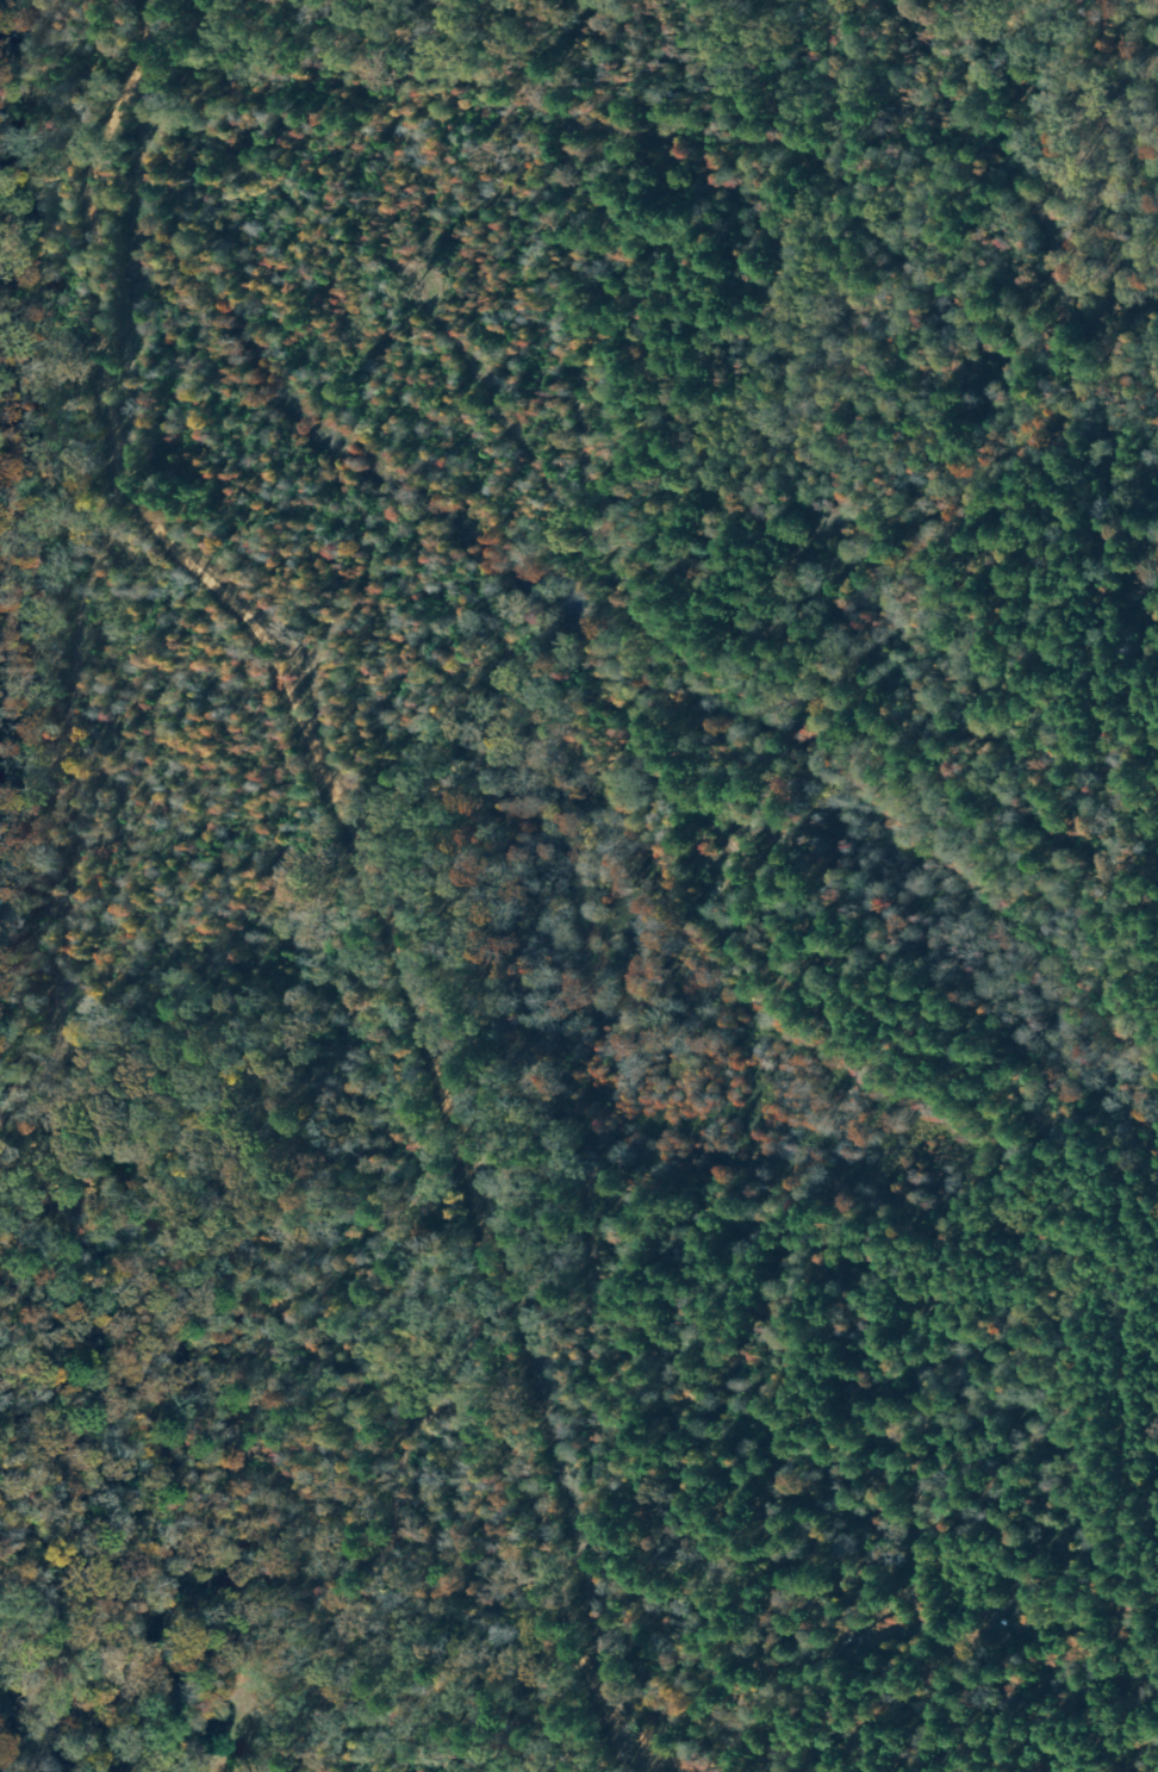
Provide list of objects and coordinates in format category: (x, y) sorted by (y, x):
road: (401, 858)

